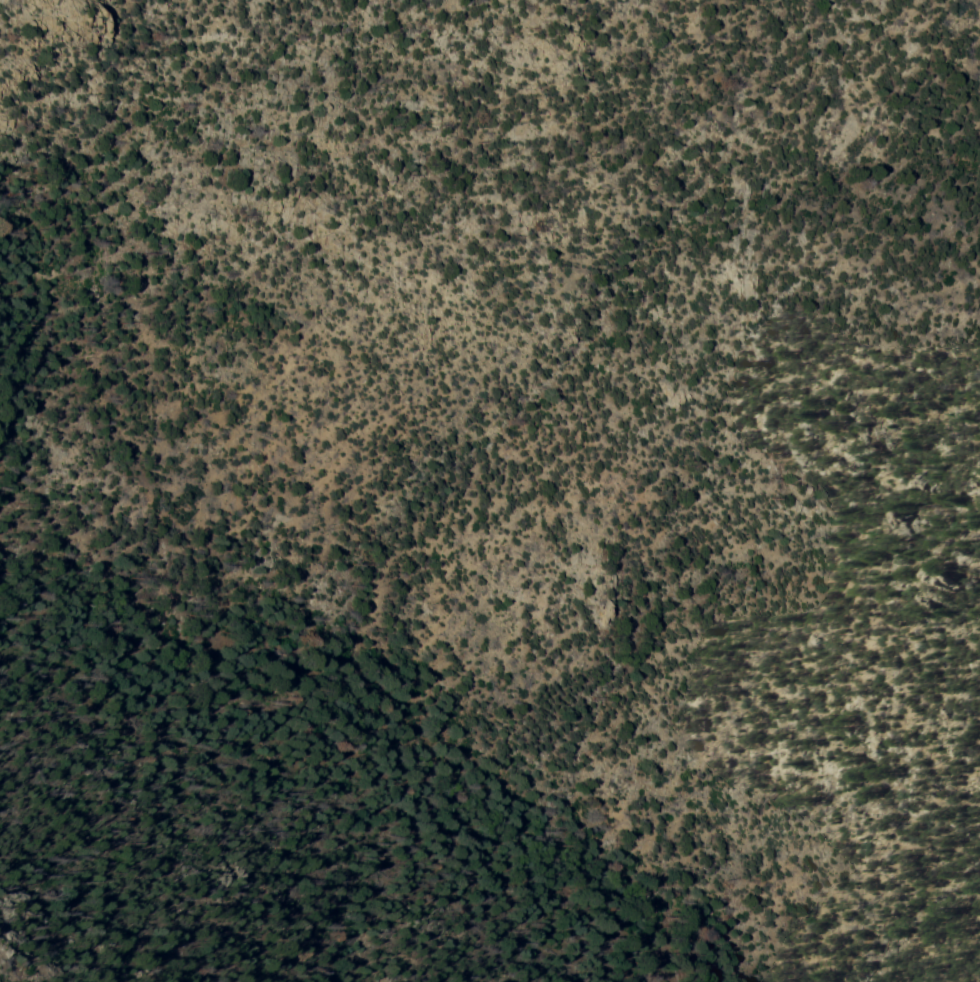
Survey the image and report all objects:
road: (334, 767)

